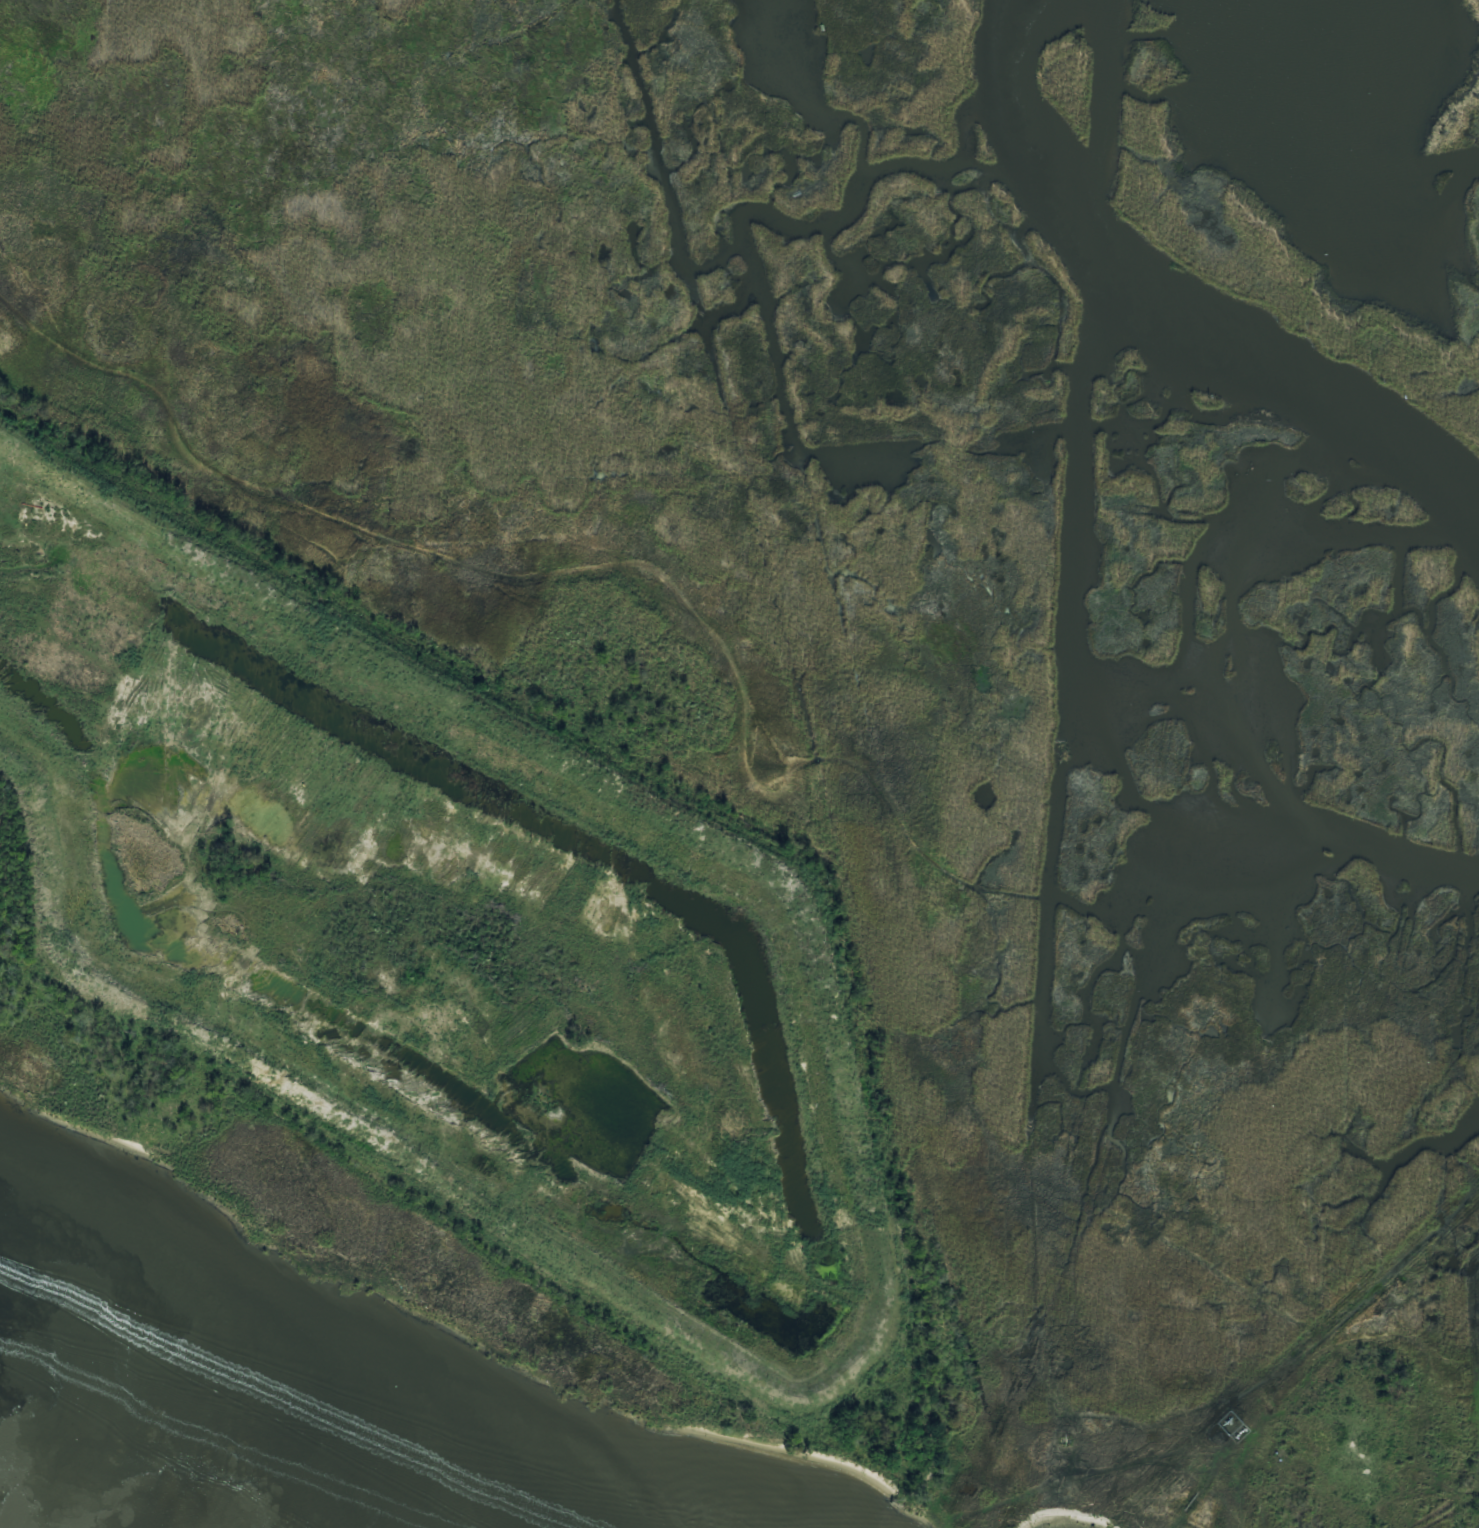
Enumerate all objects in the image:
river: (95, 1481)

